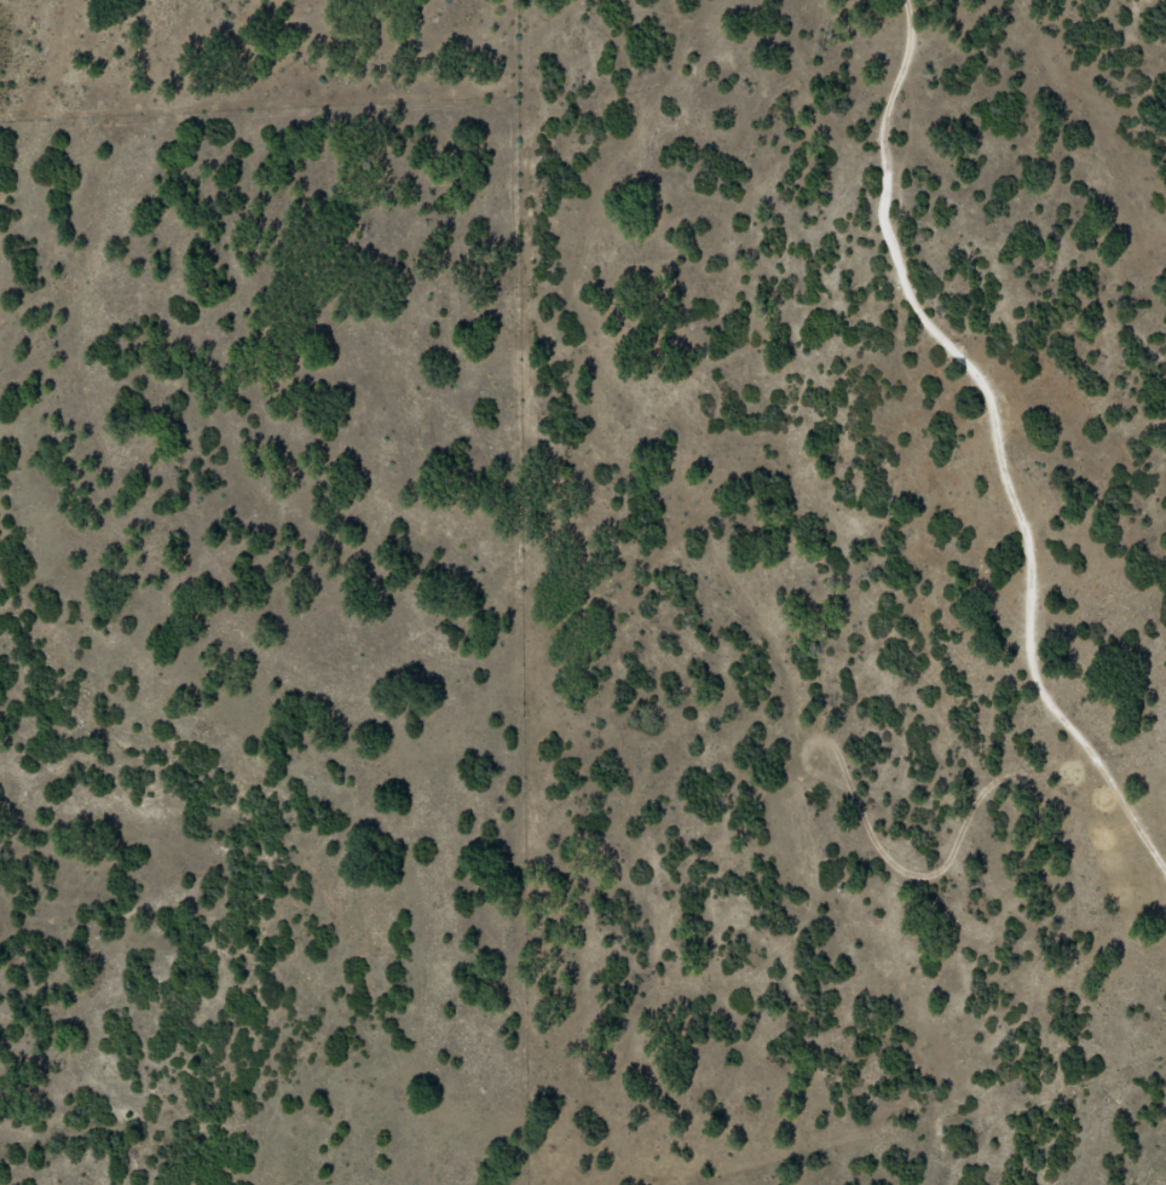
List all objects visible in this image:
road: (957, 419)

